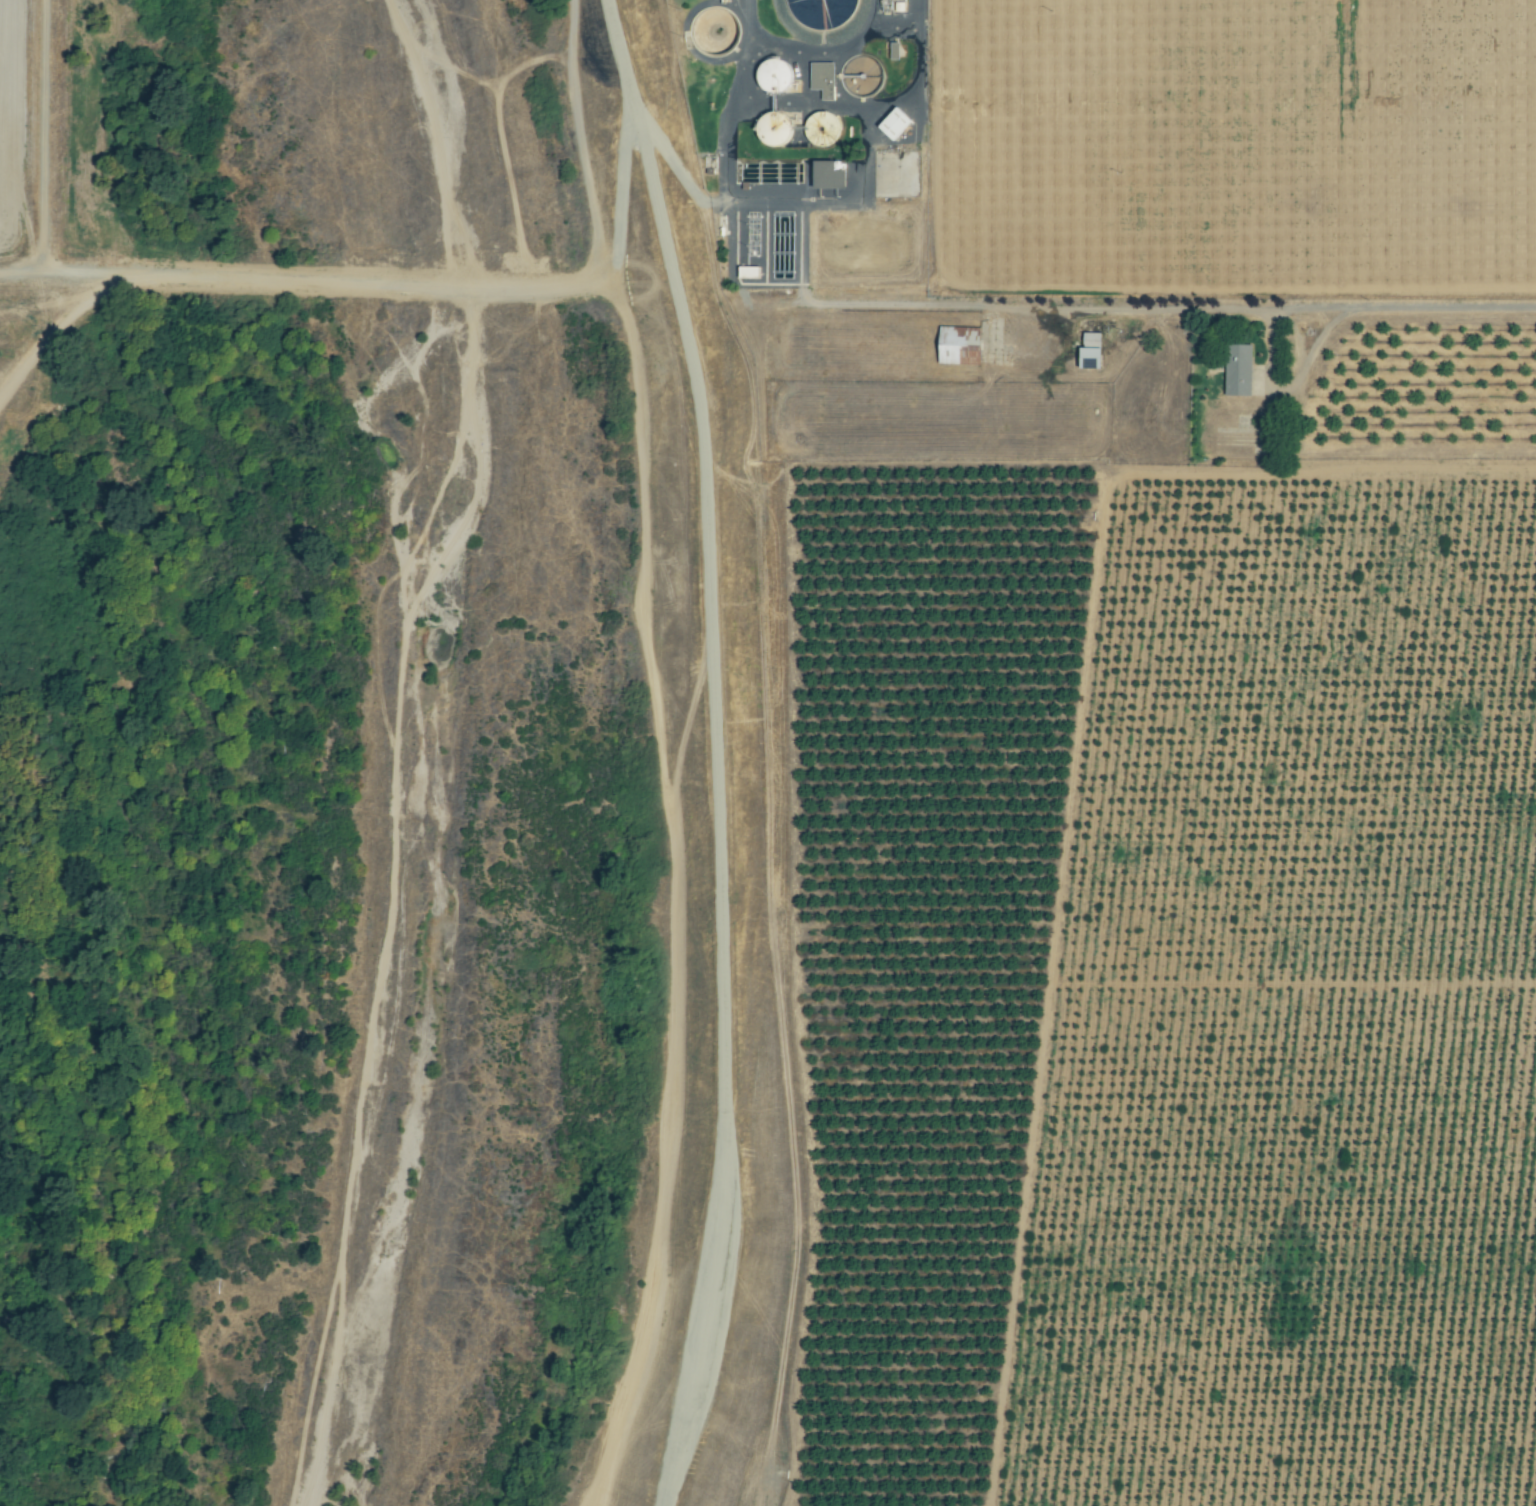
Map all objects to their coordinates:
building: (776, 75)
building: (824, 79)
building: (896, 124)
building: (799, 129)
building: (830, 176)
road: (805, 203)
road: (1278, 309)
building: (961, 346)
building: (1239, 370)
road: (633, 938)

